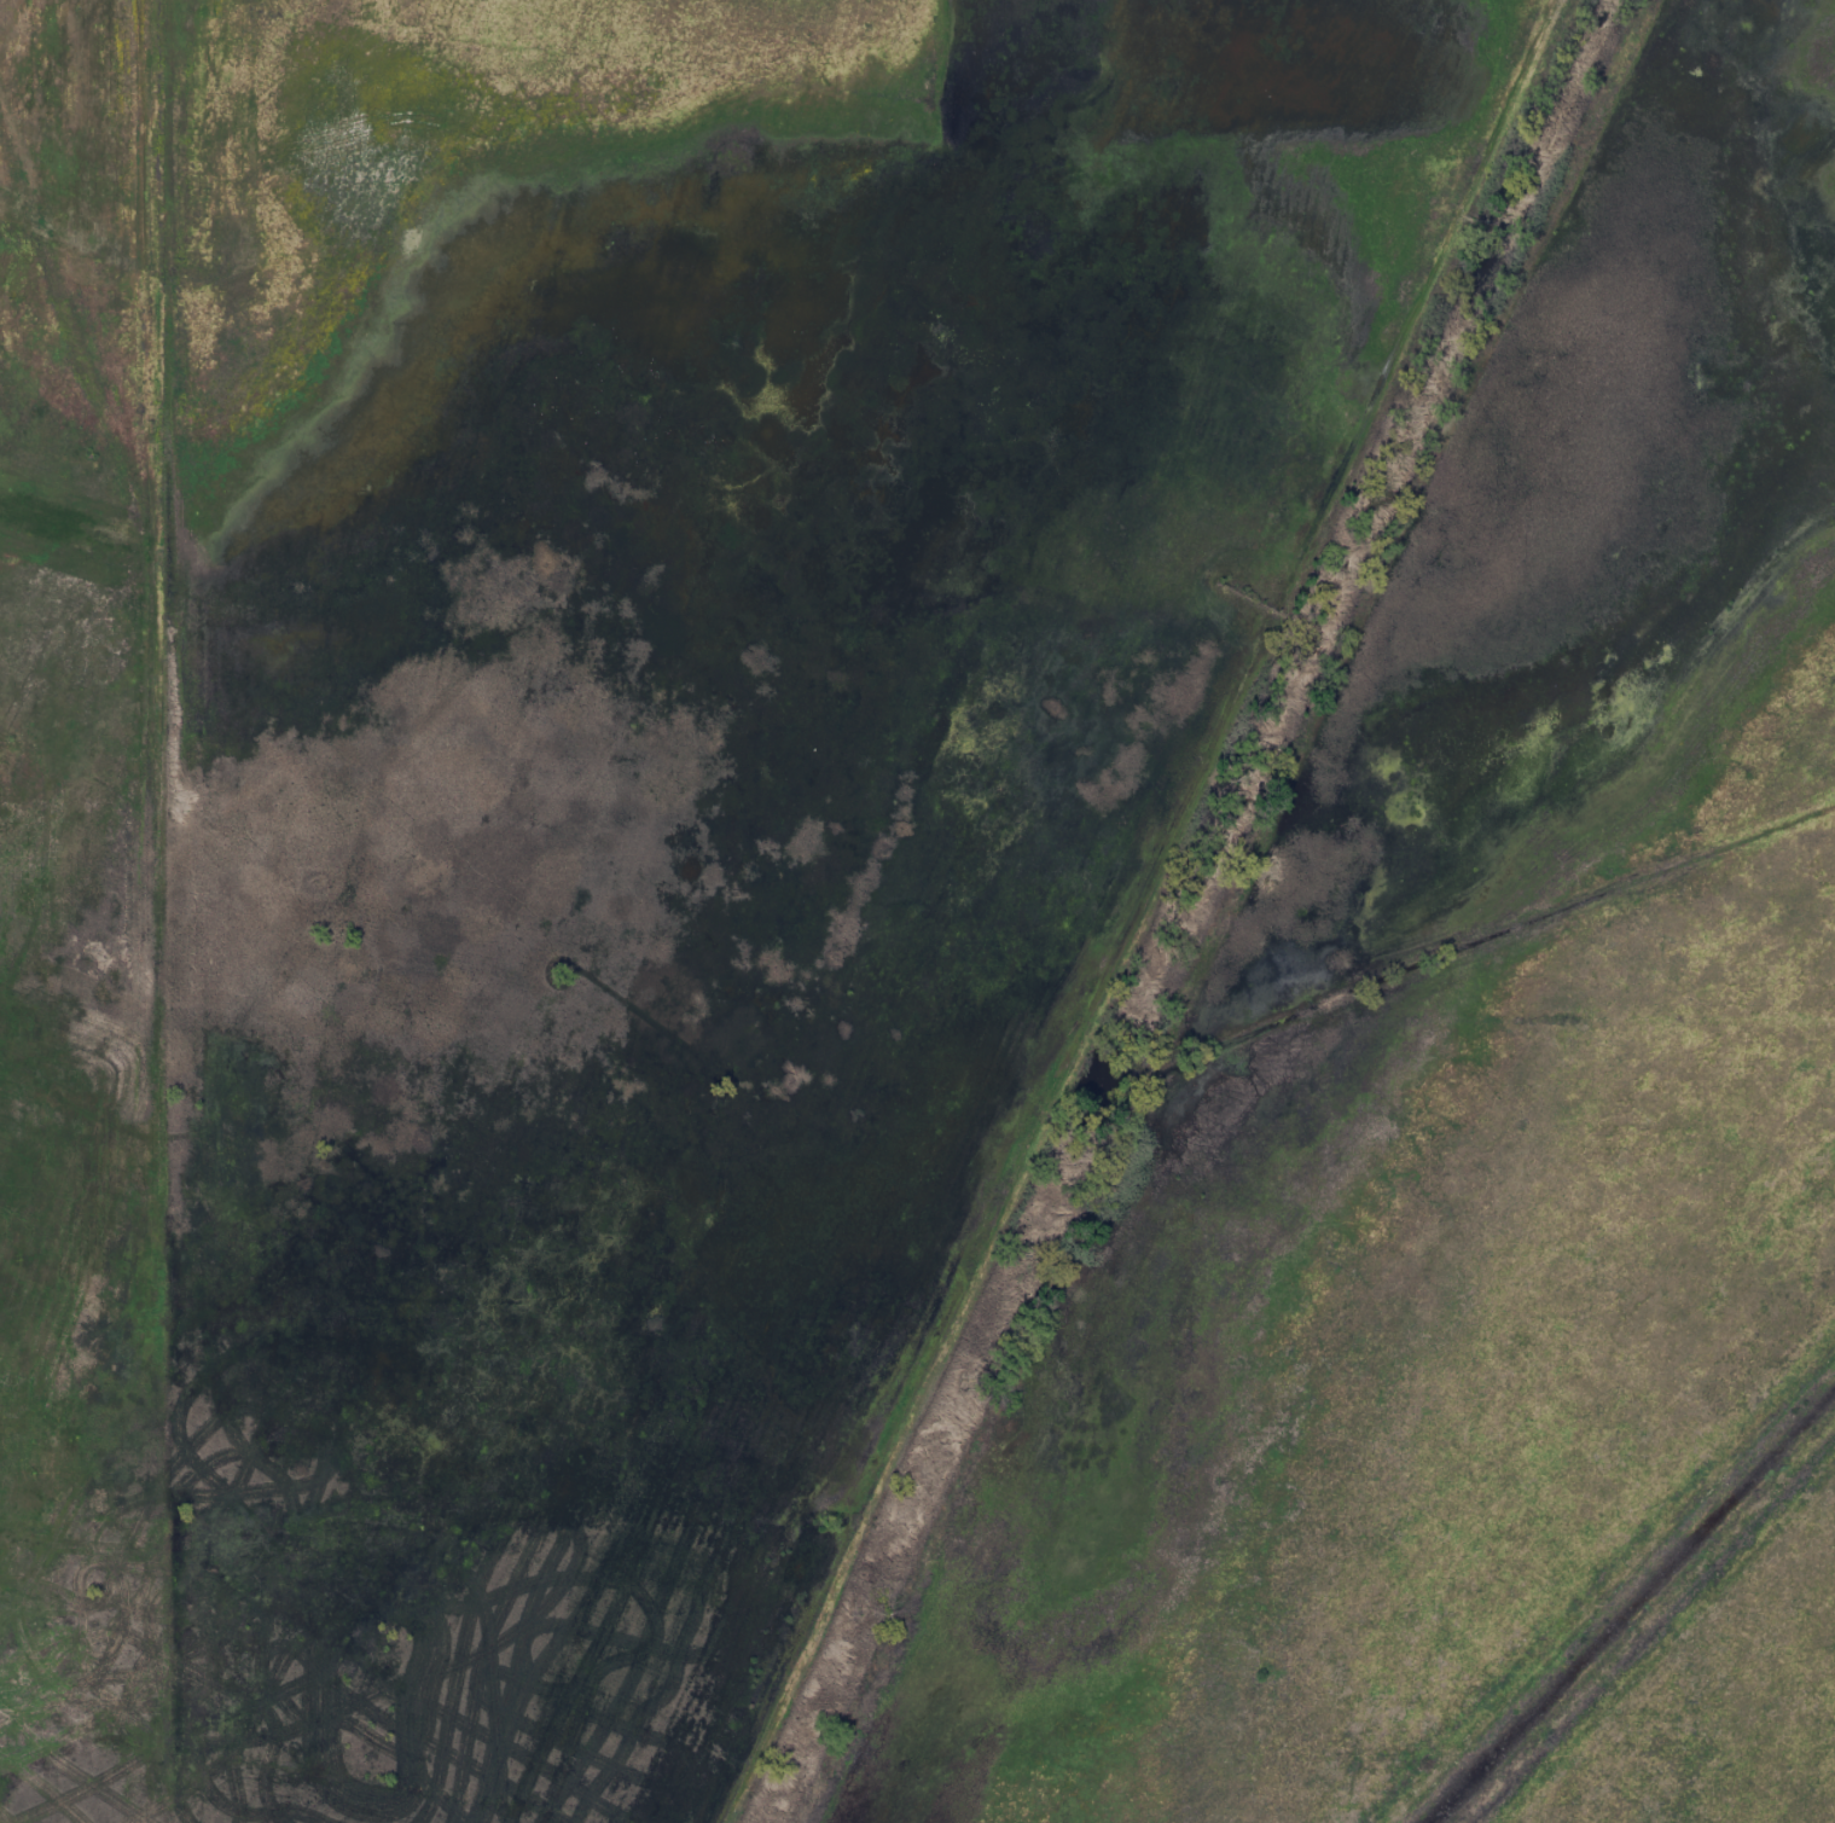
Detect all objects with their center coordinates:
river: (1631, 1607)

